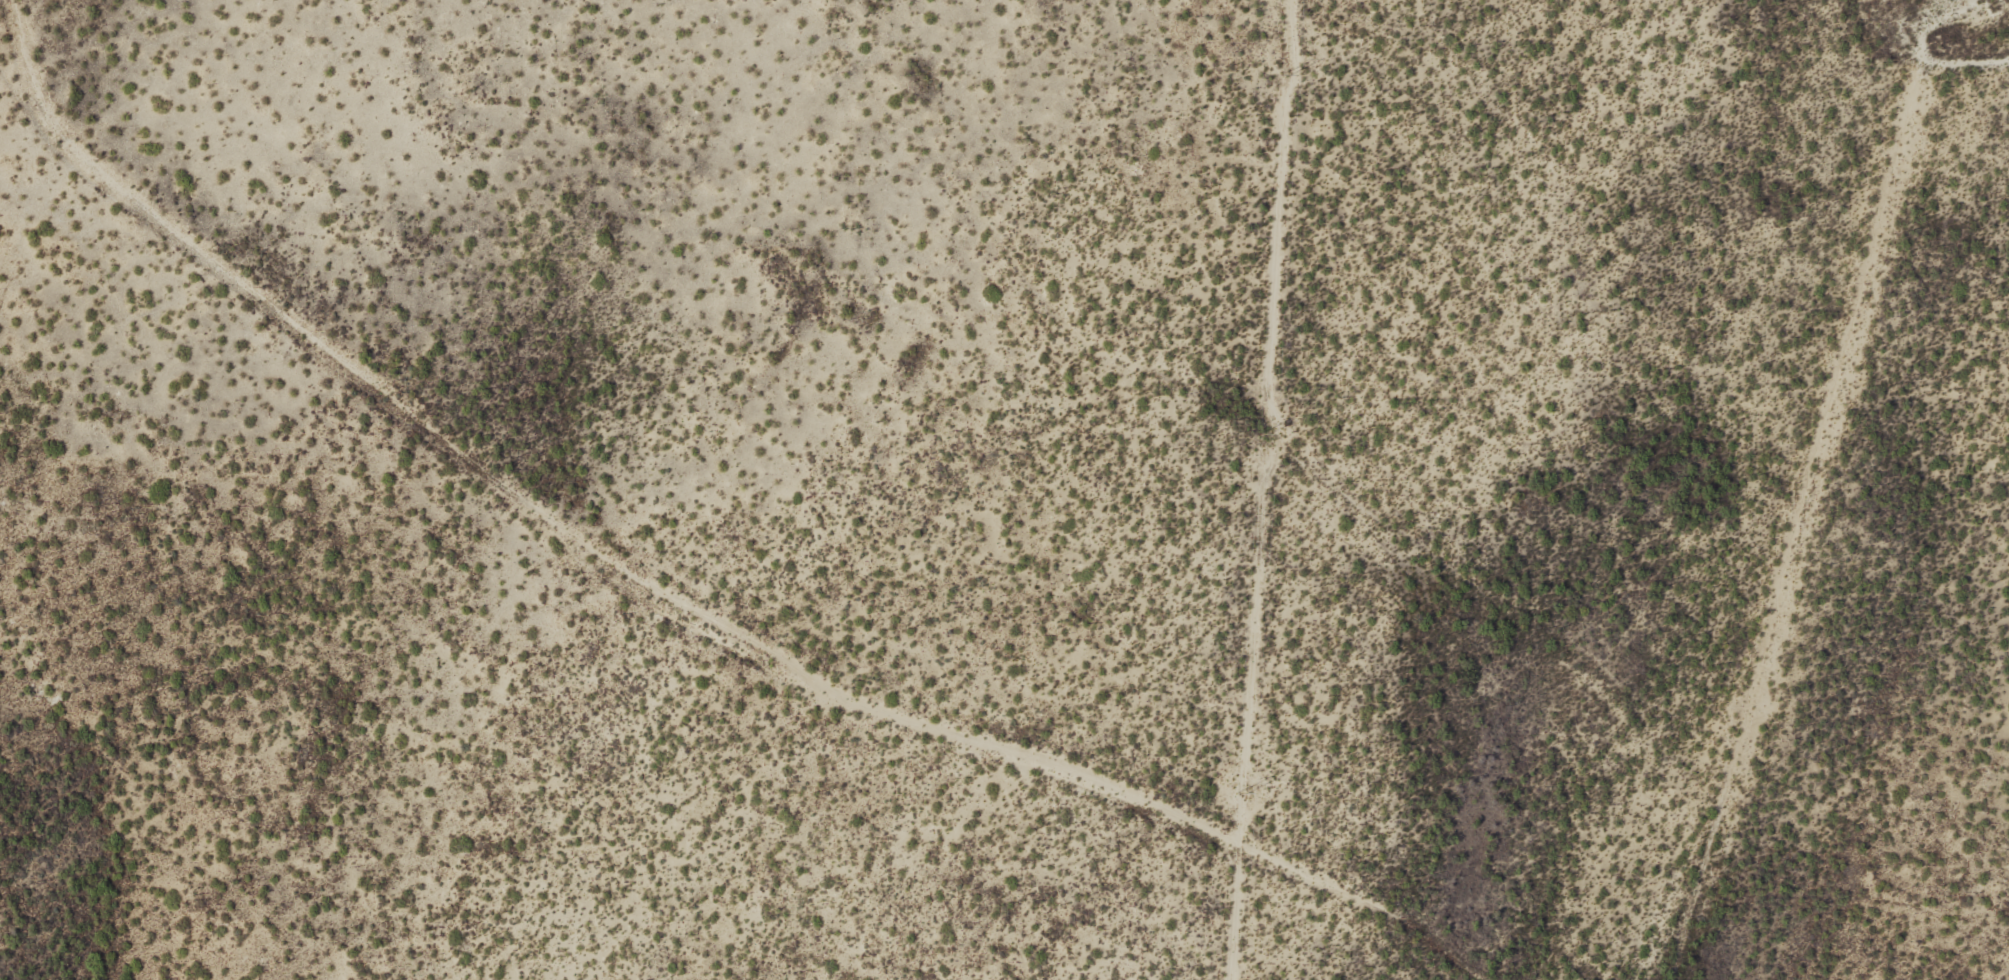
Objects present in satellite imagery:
power tower: (1285, 76)
power tower: (1263, 435)
road: (670, 597)
power tower: (1241, 793)

